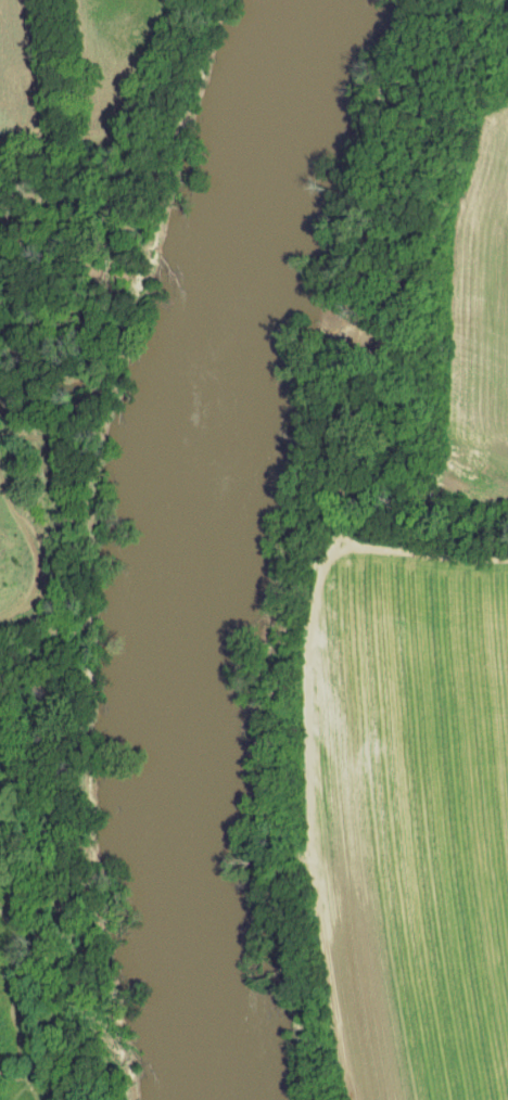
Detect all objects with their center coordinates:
river: (175, 542)
road: (301, 732)

